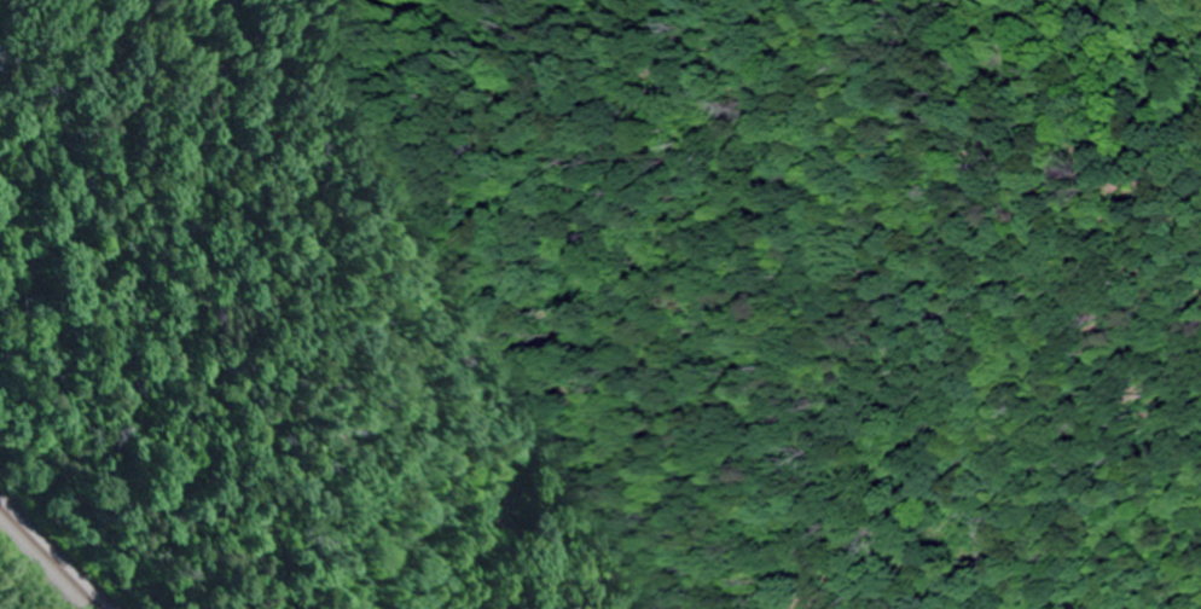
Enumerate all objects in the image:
railway: (46, 559)

